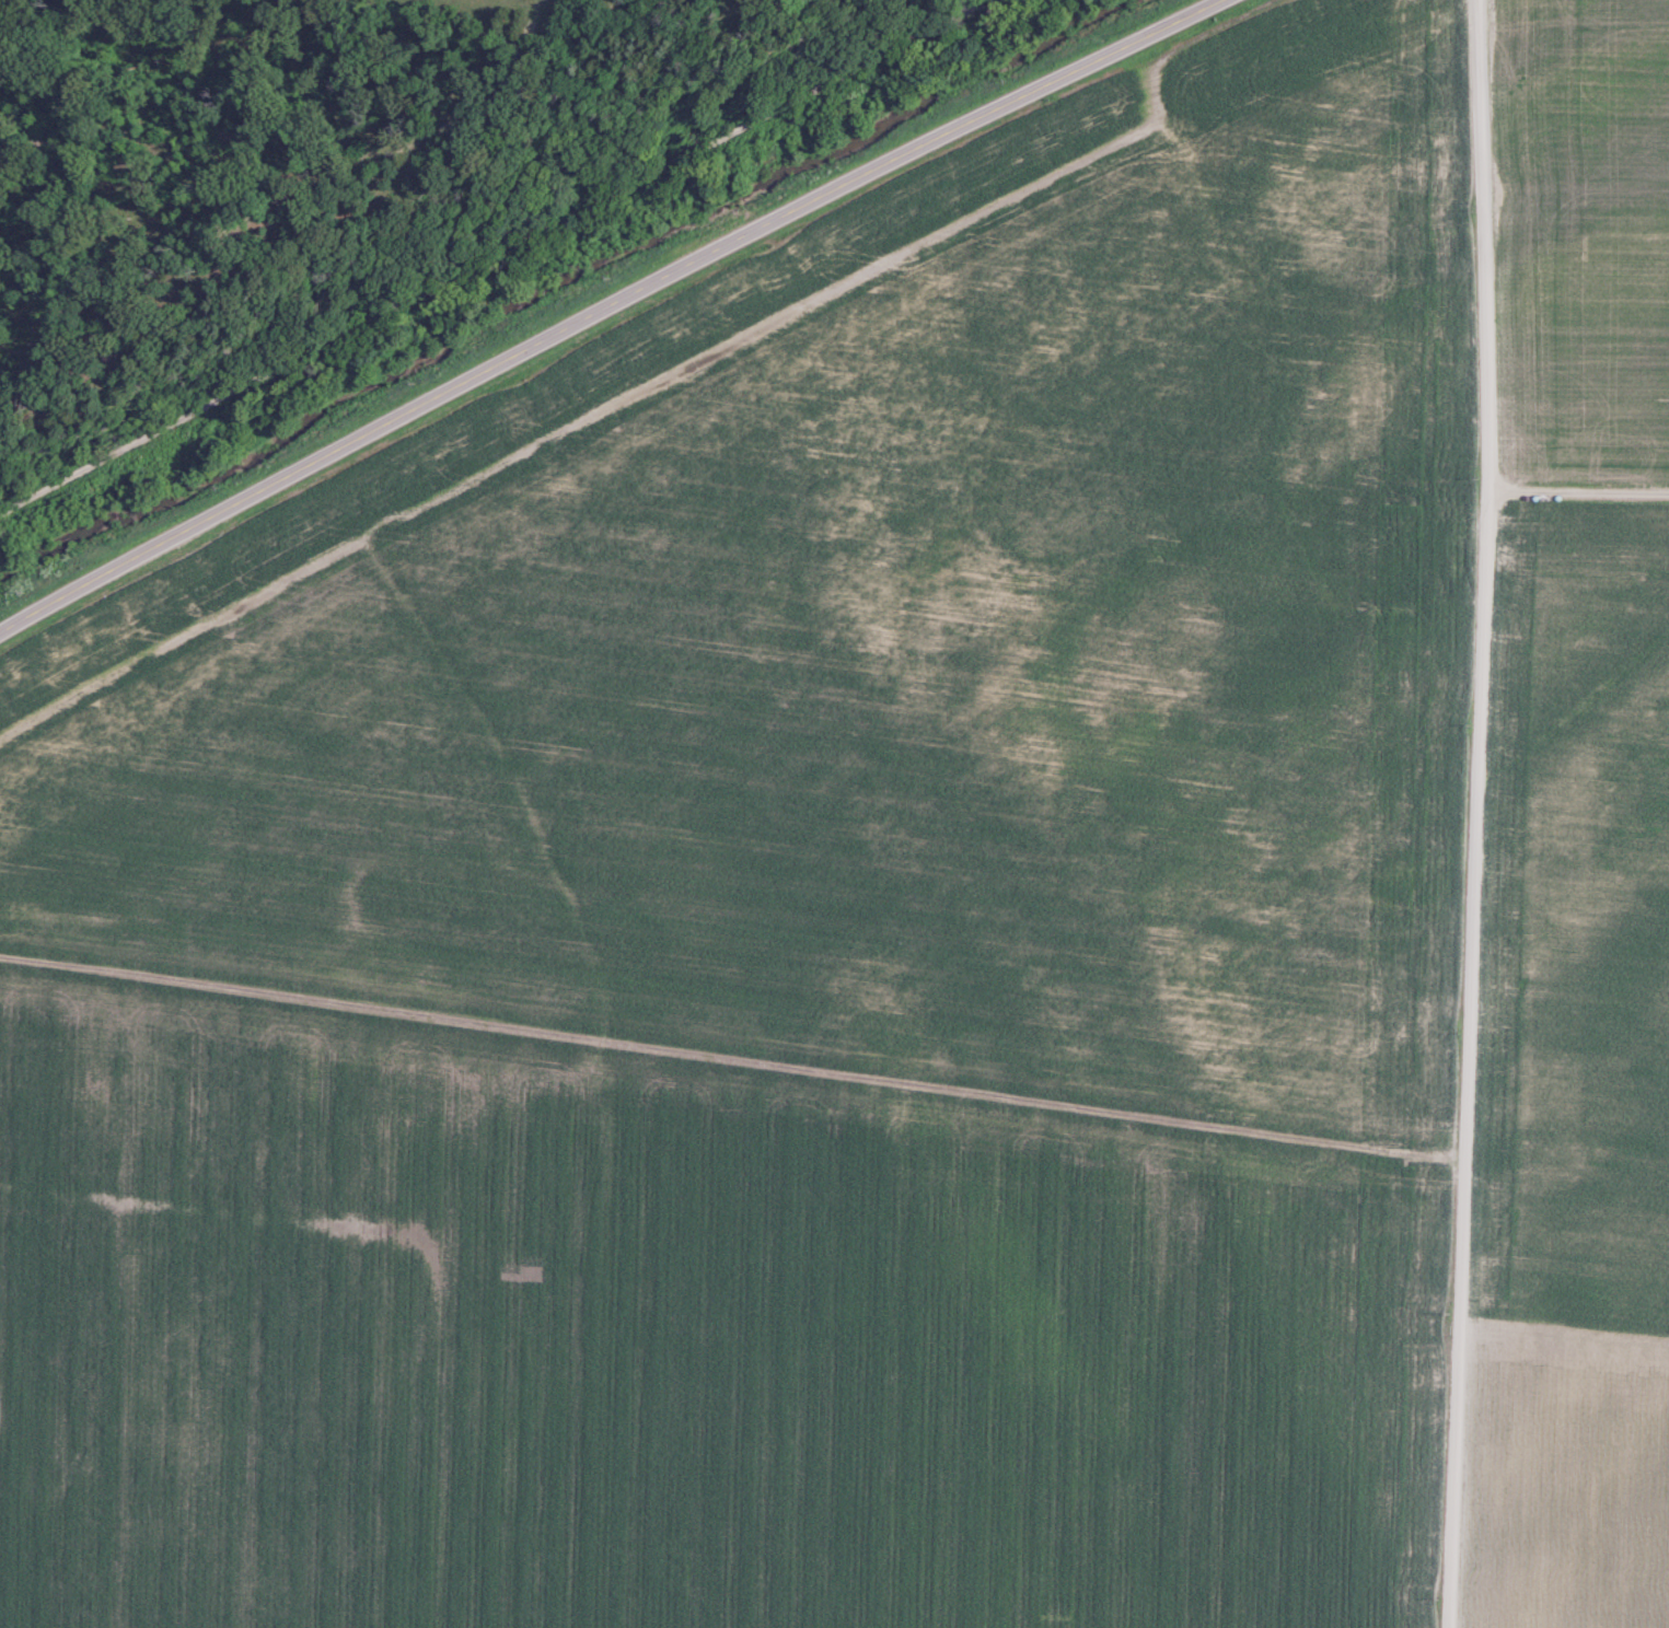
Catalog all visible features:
road: (492, 253)
road: (609, 310)
road: (1581, 495)
road: (1479, 814)

